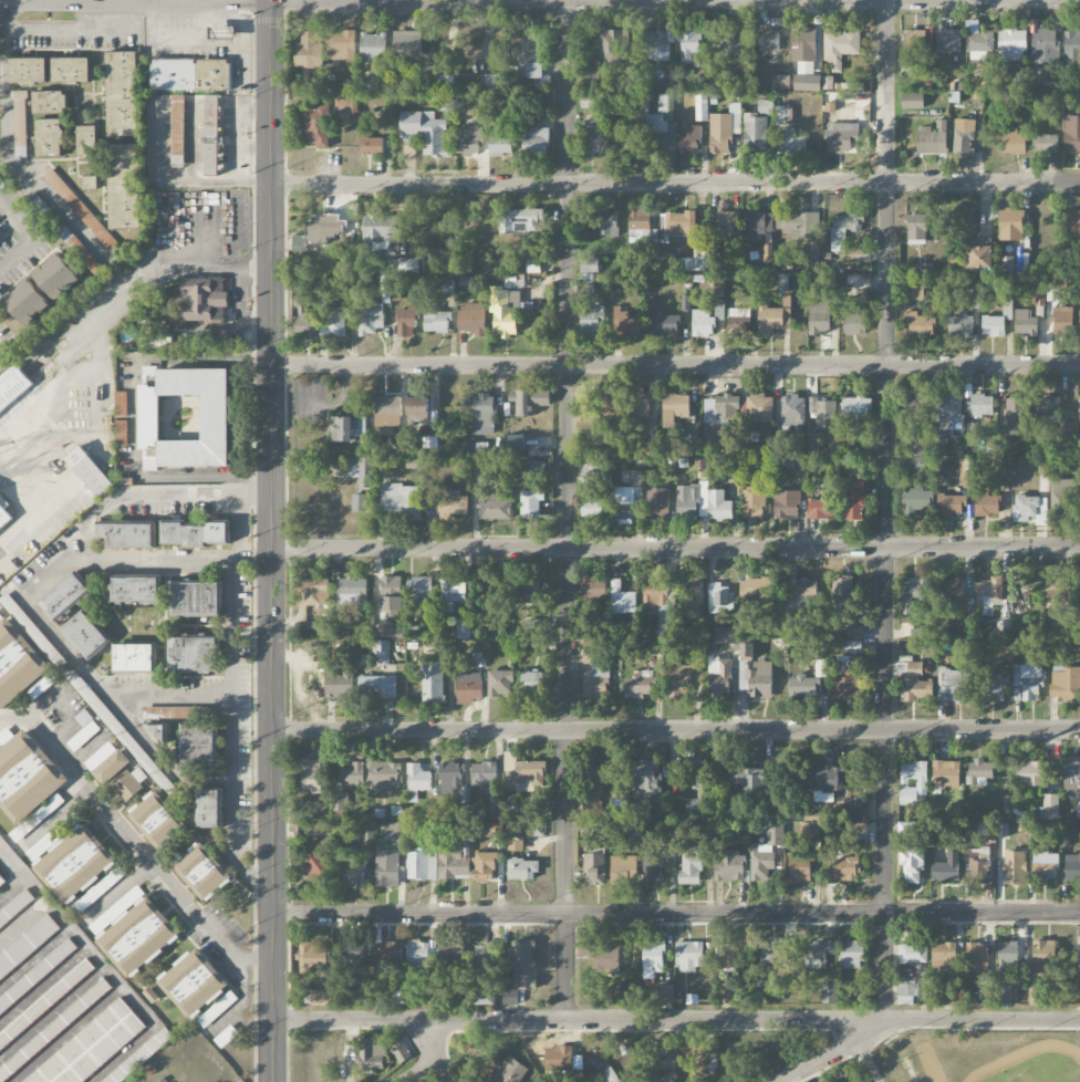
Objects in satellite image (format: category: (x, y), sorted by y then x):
road: (92, 1)
road: (539, 1)
road: (60, 28)
building: (222, 32)
building: (928, 37)
building: (914, 40)
road: (200, 41)
building: (768, 41)
building: (948, 41)
building: (803, 43)
building: (407, 44)
building: (733, 44)
building: (341, 45)
building: (657, 45)
building: (689, 45)
building: (979, 45)
building: (1045, 45)
building: (373, 46)
building: (612, 46)
building: (1011, 46)
building: (839, 48)
building: (1071, 48)
building: (309, 52)
building: (532, 61)
building: (908, 65)
building: (71, 71)
building: (28, 72)
building: (193, 74)
building: (590, 79)
building: (1021, 80)
building: (490, 82)
building: (780, 83)
building: (1051, 85)
building: (122, 94)
building: (590, 101)
building: (912, 101)
building: (50, 102)
building: (346, 105)
building: (700, 108)
building: (779, 115)
building: (20, 124)
building: (662, 126)
building: (316, 127)
building: (177, 129)
building: (426, 132)
building: (755, 133)
building: (720, 134)
building: (841, 134)
building: (211, 135)
building: (1071, 135)
building: (593, 136)
building: (964, 137)
road: (230, 138)
building: (933, 138)
building: (50, 139)
building: (688, 139)
building: (468, 141)
building: (1012, 141)
building: (87, 142)
building: (499, 142)
building: (536, 142)
building: (792, 143)
building: (1045, 143)
road: (250, 145)
building: (371, 145)
road: (8, 147)
building: (90, 183)
road: (675, 184)
building: (124, 186)
building: (80, 209)
building: (1072, 220)
building: (521, 221)
building: (728, 222)
building: (603, 225)
building: (756, 225)
building: (798, 225)
building: (1010, 225)
building: (380, 229)
building: (640, 229)
building: (844, 229)
building: (917, 229)
building: (319, 231)
road: (25, 233)
building: (979, 258)
building: (700, 260)
building: (407, 266)
building: (589, 266)
building: (54, 277)
building: (1056, 280)
building: (447, 288)
building: (716, 289)
building: (1079, 290)
building: (913, 291)
road: (233, 295)
building: (201, 299)
building: (25, 302)
building: (685, 303)
building: (719, 310)
building: (502, 313)
building: (304, 316)
building: (775, 318)
building: (819, 318)
building: (370, 319)
building: (1061, 319)
building: (435, 320)
building: (471, 320)
building: (336, 321)
building: (592, 321)
building: (854, 321)
building: (407, 322)
building: (738, 322)
building: (1025, 323)
building: (1079, 323)
building: (624, 324)
building: (703, 324)
building: (920, 324)
building: (665, 325)
building: (960, 326)
building: (993, 326)
road: (100, 342)
building: (154, 342)
road: (674, 364)
building: (13, 387)
building: (529, 402)
building: (121, 404)
building: (637, 404)
building: (1047, 405)
building: (601, 406)
building: (982, 406)
building: (760, 407)
building: (948, 407)
building: (675, 408)
building: (914, 408)
building: (1079, 408)
building: (418, 409)
building: (792, 412)
building: (823, 414)
building: (1016, 414)
building: (387, 415)
building: (484, 415)
building: (718, 416)
building: (184, 417)
road: (134, 418)
road: (238, 418)
building: (347, 428)
building: (1068, 429)
building: (121, 434)
building: (516, 443)
building: (648, 444)
building: (403, 445)
building: (922, 446)
building: (914, 465)
building: (1046, 465)
building: (1004, 466)
building: (596, 467)
building: (537, 469)
building: (90, 472)
building: (362, 472)
building: (966, 474)
building: (631, 477)
building: (1062, 496)
building: (854, 499)
building: (916, 500)
building: (401, 501)
building: (692, 501)
road: (41, 502)
building: (359, 503)
building: (530, 503)
building: (624, 503)
building: (752, 503)
building: (496, 504)
building: (656, 504)
building: (787, 504)
building: (591, 506)
building: (719, 506)
building: (952, 506)
building: (987, 506)
building: (449, 507)
road: (567, 510)
road: (886, 510)
building: (1030, 510)
building: (3, 518)
building: (127, 533)
building: (196, 534)
road: (270, 541)
road: (674, 548)
road: (147, 563)
building: (593, 589)
building: (1059, 589)
building: (136, 590)
building: (422, 590)
building: (527, 590)
building: (803, 591)
building: (951, 591)
building: (316, 592)
building: (353, 592)
building: (392, 593)
building: (757, 593)
building: (914, 593)
building: (451, 594)
building: (692, 594)
building: (987, 596)
building: (66, 597)
building: (842, 597)
building: (719, 599)
building: (197, 600)
building: (622, 600)
building: (660, 604)
road: (33, 608)
building: (339, 617)
building: (533, 626)
building: (964, 627)
building: (383, 630)
building: (461, 630)
building: (1003, 631)
building: (854, 632)
building: (86, 635)
building: (725, 635)
building: (851, 647)
building: (380, 652)
building: (746, 652)
building: (194, 654)
building: (135, 657)
building: (478, 659)
building: (820, 659)
building: (20, 667)
building: (594, 673)
building: (719, 678)
building: (757, 679)
road: (231, 680)
building: (1028, 682)
building: (432, 683)
building: (678, 683)
building: (915, 683)
building: (1065, 683)
building: (500, 684)
building: (848, 684)
building: (339, 685)
building: (531, 685)
building: (638, 685)
building: (952, 685)
building: (376, 687)
building: (803, 687)
building: (991, 687)
building: (468, 688)
road: (168, 696)
building: (118, 730)
road: (675, 730)
building: (159, 731)
building: (199, 748)
building: (100, 757)
building: (112, 767)
building: (522, 772)
building: (979, 772)
building: (1029, 773)
building: (1070, 773)
building: (352, 774)
building: (946, 774)
building: (383, 776)
building: (644, 776)
building: (311, 777)
building: (450, 778)
building: (484, 778)
building: (746, 778)
building: (27, 781)
building: (417, 781)
building: (595, 781)
building: (912, 781)
building: (129, 782)
building: (827, 783)
building: (698, 792)
building: (1049, 805)
building: (209, 808)
building: (858, 814)
road: (116, 818)
building: (155, 819)
building: (907, 829)
building: (393, 830)
building: (536, 830)
building: (362, 833)
building: (515, 846)
building: (765, 853)
building: (321, 855)
building: (455, 855)
building: (74, 863)
building: (422, 864)
building: (653, 864)
building: (912, 864)
building: (1045, 865)
building: (690, 866)
building: (1071, 866)
building: (387, 867)
building: (730, 867)
building: (487, 868)
building: (947, 868)
building: (1015, 868)
building: (201, 870)
building: (522, 870)
building: (594, 870)
building: (622, 870)
building: (799, 870)
building: (843, 871)
building: (978, 872)
building: (353, 874)
road: (17, 875)
building: (2, 882)
building: (17, 909)
road: (675, 915)
building: (134, 932)
building: (28, 946)
building: (1079, 950)
building: (1043, 951)
building: (354, 954)
building: (773, 954)
building: (818, 954)
building: (913, 954)
building: (387, 955)
building: (422, 955)
building: (453, 955)
building: (946, 955)
building: (689, 956)
building: (852, 956)
building: (603, 957)
building: (1007, 957)
building: (313, 958)
building: (653, 958)
road: (248, 959)
building: (977, 959)
building: (485, 960)
building: (523, 963)
building: (1078, 968)
building: (37, 975)
building: (193, 982)
building: (907, 991)
building: (952, 992)
building: (829, 993)
building: (482, 995)
building: (509, 995)
building: (662, 995)
building: (987, 996)
building: (1004, 996)
building: (1036, 996)
building: (321, 997)
building: (46, 1002)
building: (217, 1009)
road: (675, 1020)
building: (54, 1028)
building: (92, 1047)
road: (837, 1051)
building: (401, 1052)
road: (432, 1052)
building: (373, 1053)
building: (668, 1057)
building: (705, 1057)
building: (142, 1058)
road: (865, 1061)
building: (558, 1063)
road: (419, 1071)
building: (510, 1071)
building: (666, 1078)
building: (852, 1081)

